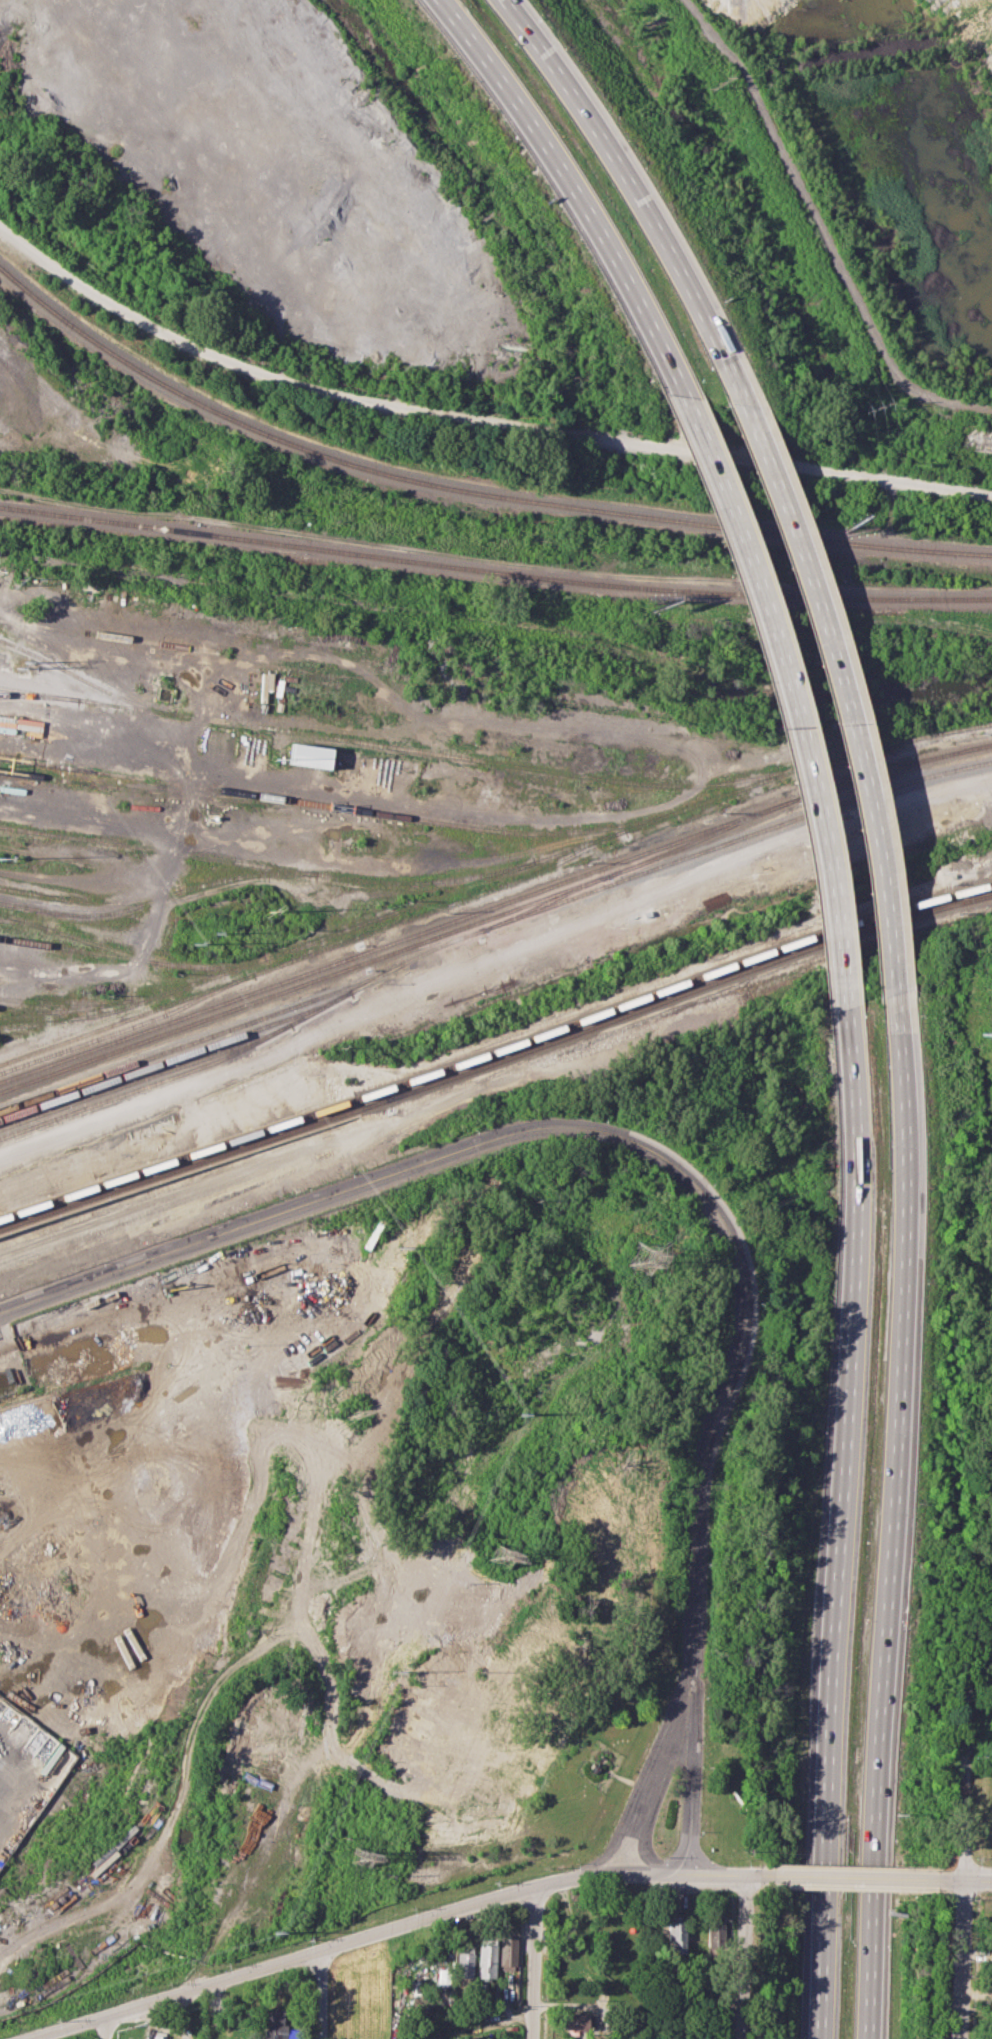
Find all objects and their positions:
power tower: (715, 80)
road: (624, 176)
road: (568, 183)
road: (824, 226)
power tower: (873, 407)
road: (474, 424)
railway: (468, 492)
railway: (494, 571)
power tower: (12, 580)
railway: (498, 627)
power tower: (20, 663)
road: (837, 673)
railway: (88, 681)
road: (786, 688)
railway: (401, 747)
building: (309, 755)
railway: (889, 768)
railway: (149, 791)
railway: (339, 806)
railway: (535, 863)
railway: (268, 865)
railway: (157, 897)
railway: (79, 901)
railway: (546, 901)
railway: (62, 904)
power tower: (268, 911)
railway: (28, 922)
railway: (48, 926)
railway: (486, 926)
railway: (79, 939)
railway: (394, 940)
railway: (52, 945)
power tower: (195, 945)
railway: (396, 950)
railway: (315, 951)
railway: (88, 953)
railway: (184, 964)
railway: (670, 986)
railway: (672, 997)
railway: (66, 1000)
railway: (114, 1001)
railway: (28, 1009)
railway: (41, 1017)
railway: (62, 1018)
railway: (127, 1027)
power tower: (982, 1032)
railway: (201, 1038)
railway: (172, 1058)
railway: (147, 1075)
railway: (176, 1157)
railway: (178, 1168)
road: (684, 1172)
power tower: (402, 1249)
power tower: (644, 1258)
railway: (70, 1386)
power tower: (519, 1414)
road: (891, 1515)
road: (841, 1523)
power tower: (502, 1557)
power tower: (391, 1675)
road: (655, 1774)
road: (966, 1840)
power tower: (361, 1859)
road: (862, 1878)
road: (966, 1881)
road: (404, 1928)
building: (715, 1932)
power tower: (273, 1933)
building: (677, 1933)
building: (507, 1952)
road: (743, 1957)
building: (486, 1958)
road: (533, 1963)
building: (464, 1964)
building: (443, 1975)
road: (317, 1997)
building: (574, 2023)
building: (275, 2026)
road: (99, 2029)
building: (158, 2035)

